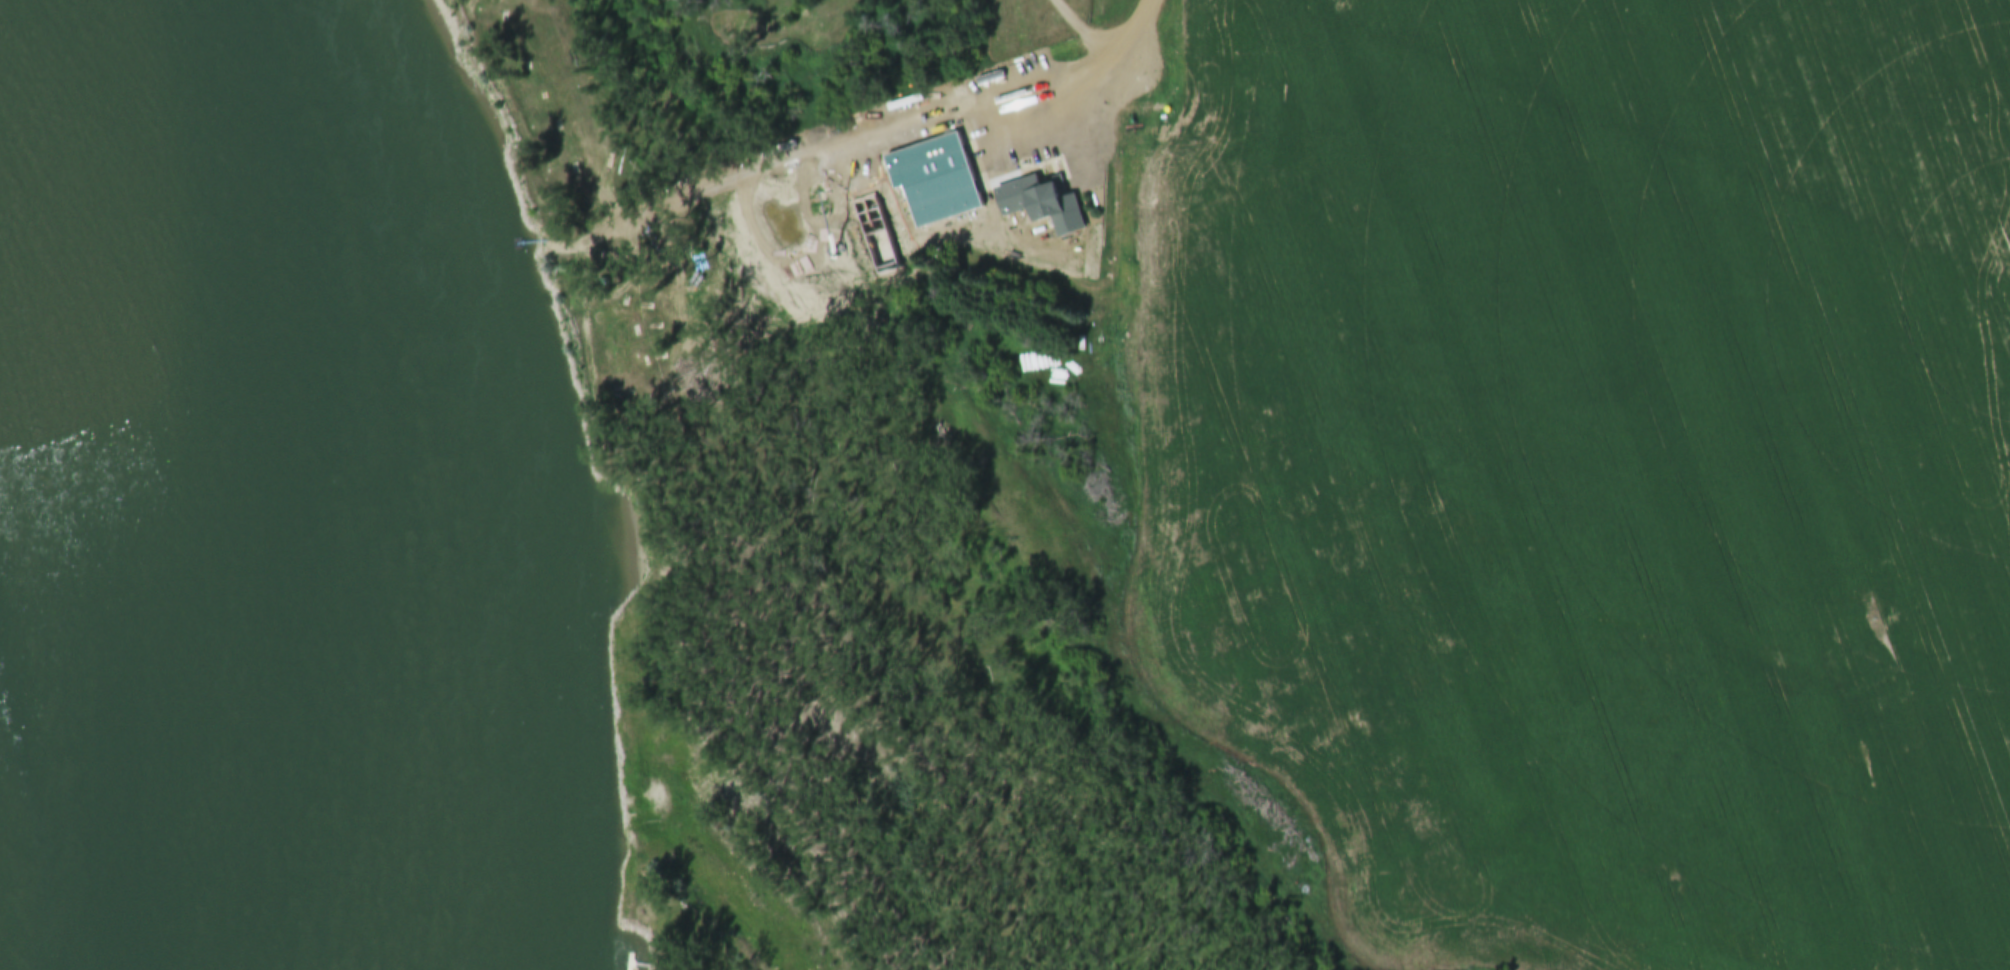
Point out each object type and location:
road: (1068, 25)
park: (708, 72)
road: (873, 136)
building: (933, 179)
building: (1042, 205)
road: (1516, 273)
river: (319, 472)

